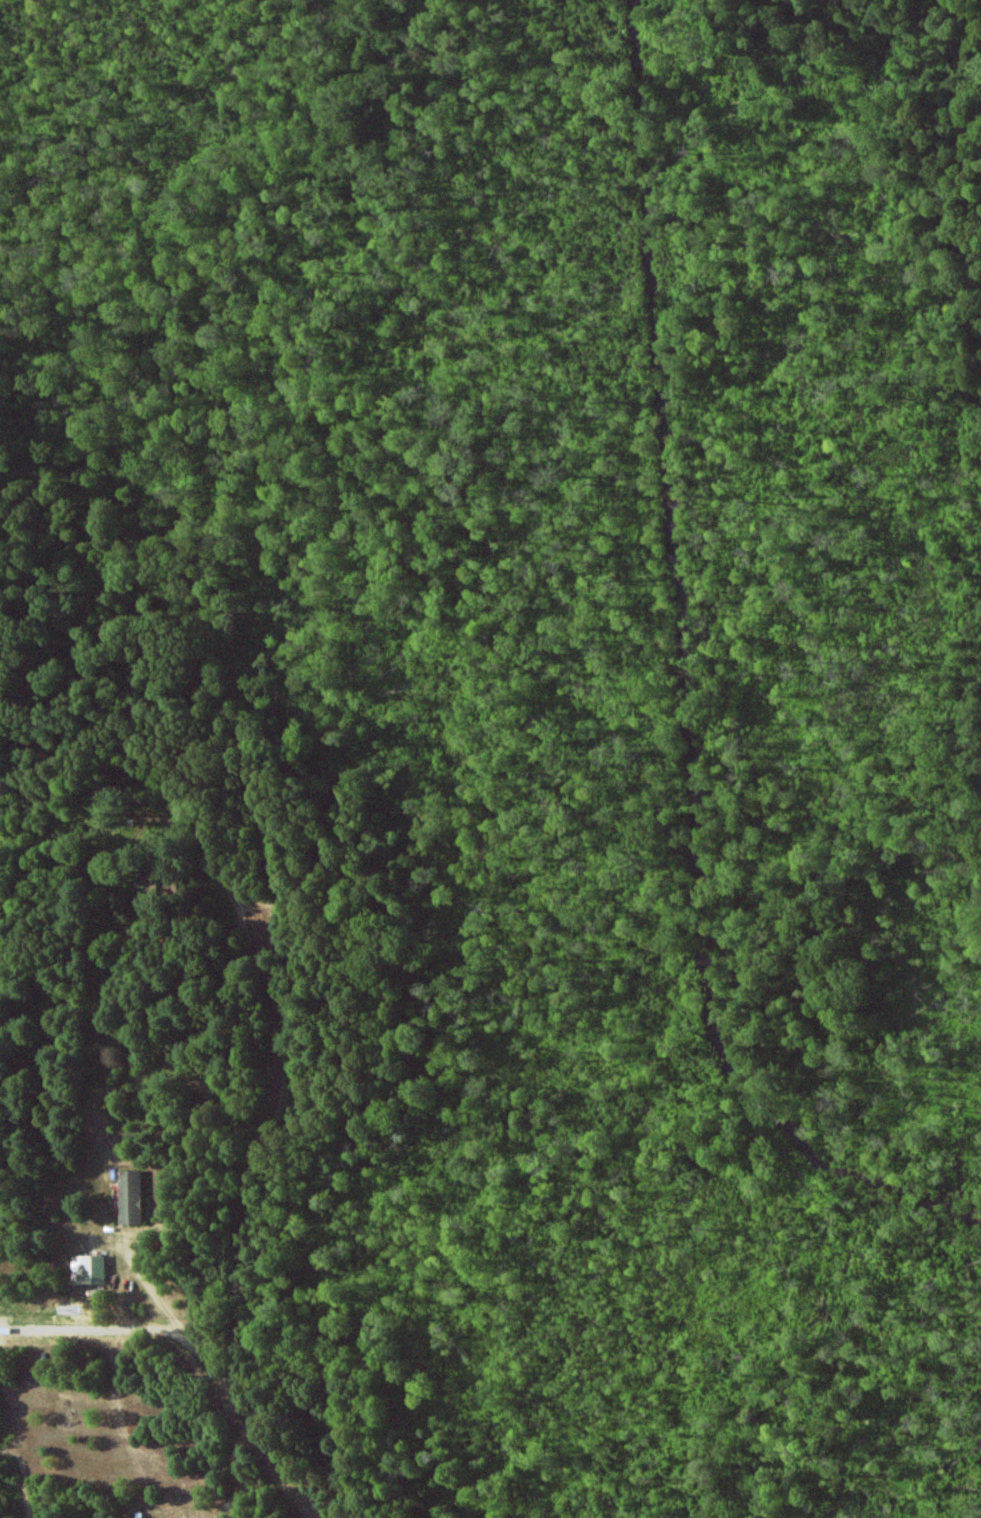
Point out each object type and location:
road: (245, 1177)
building: (131, 1197)
building: (88, 1269)

